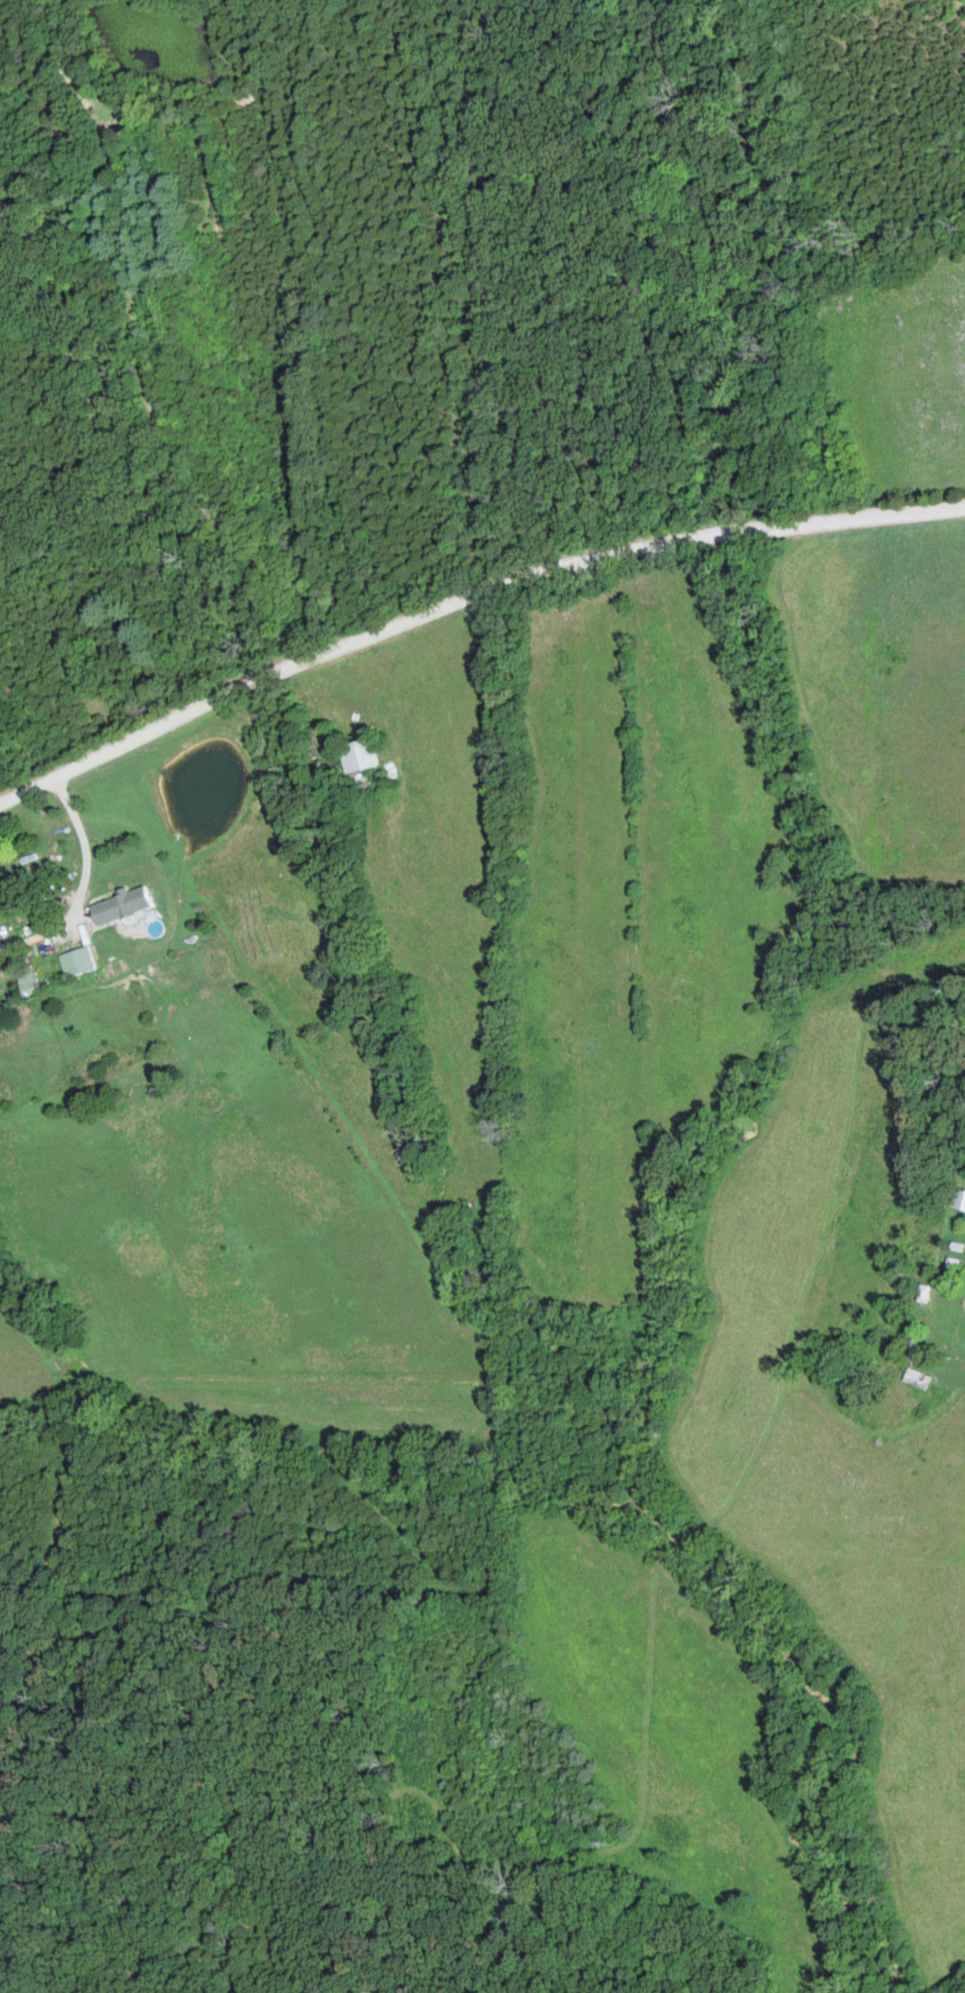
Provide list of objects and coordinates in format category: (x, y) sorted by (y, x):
building: (75, 77)
road: (464, 598)
building: (368, 770)
road: (80, 886)
building: (125, 908)
building: (78, 964)
building: (960, 1201)
building: (916, 1366)

